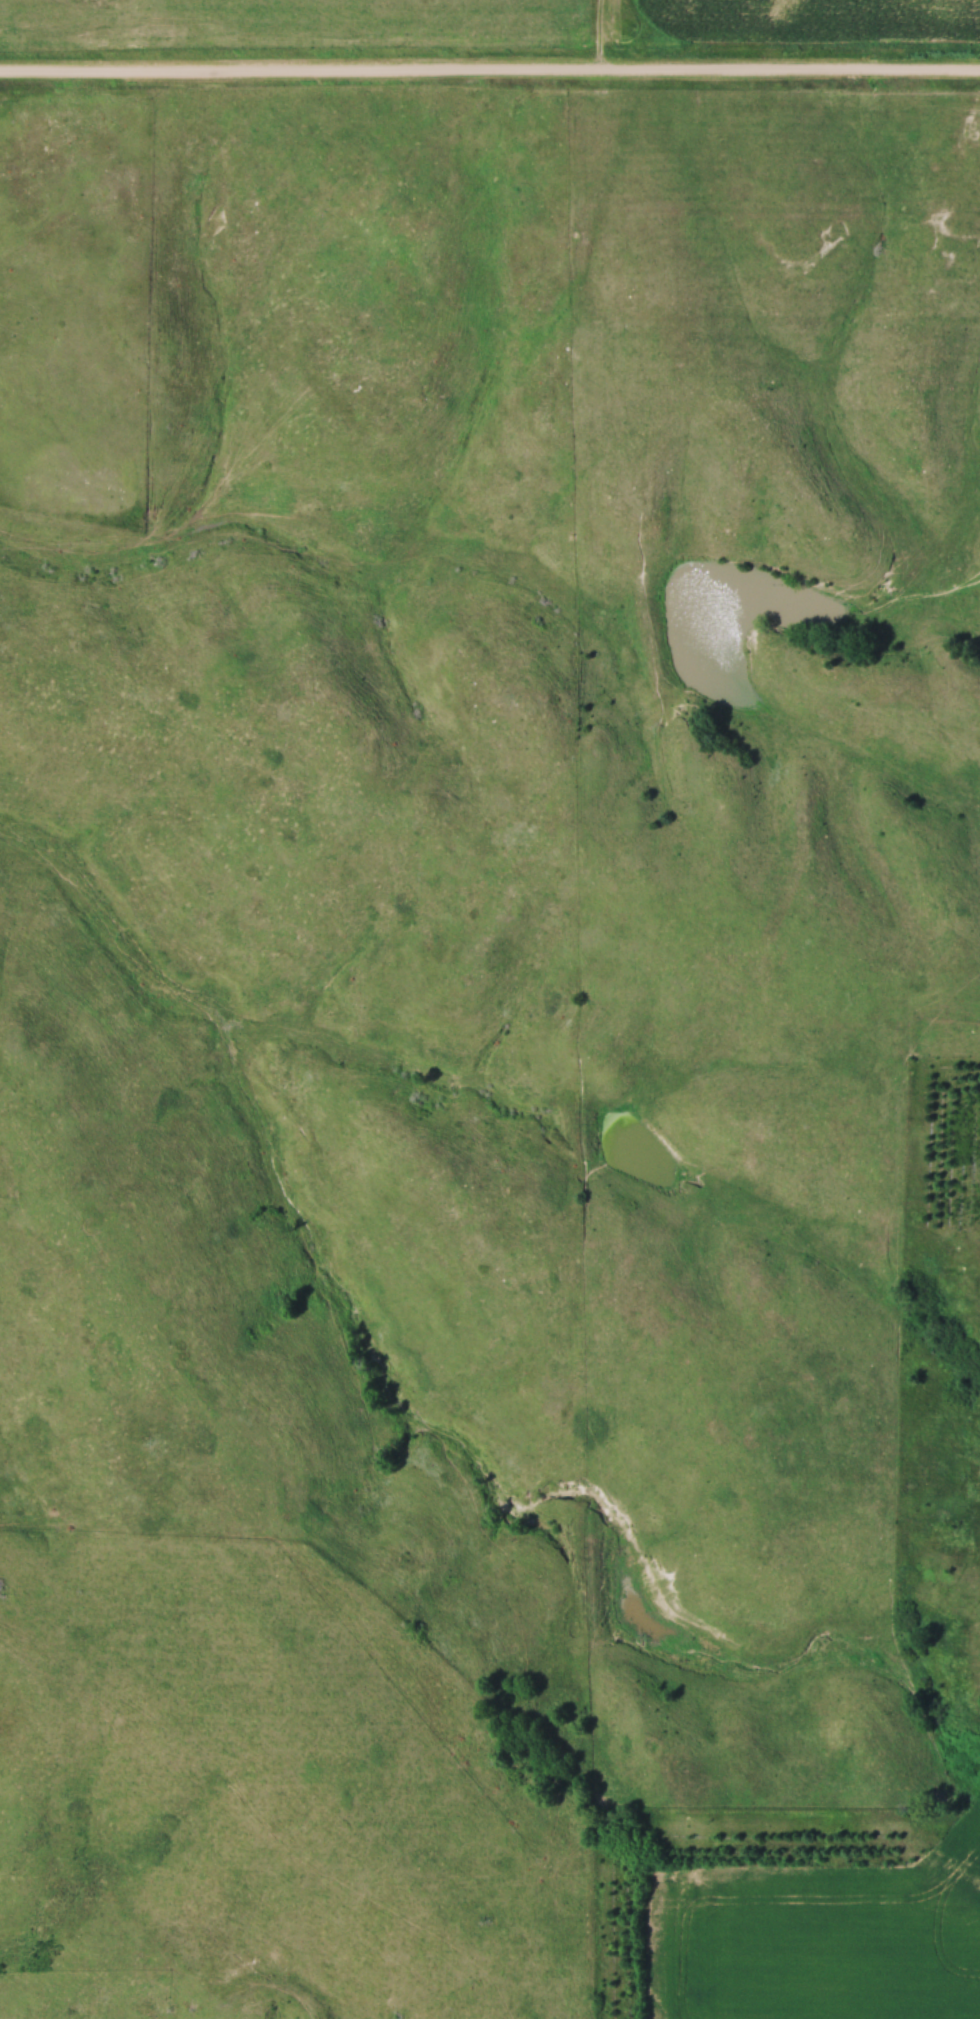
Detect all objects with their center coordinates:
road: (489, 73)

